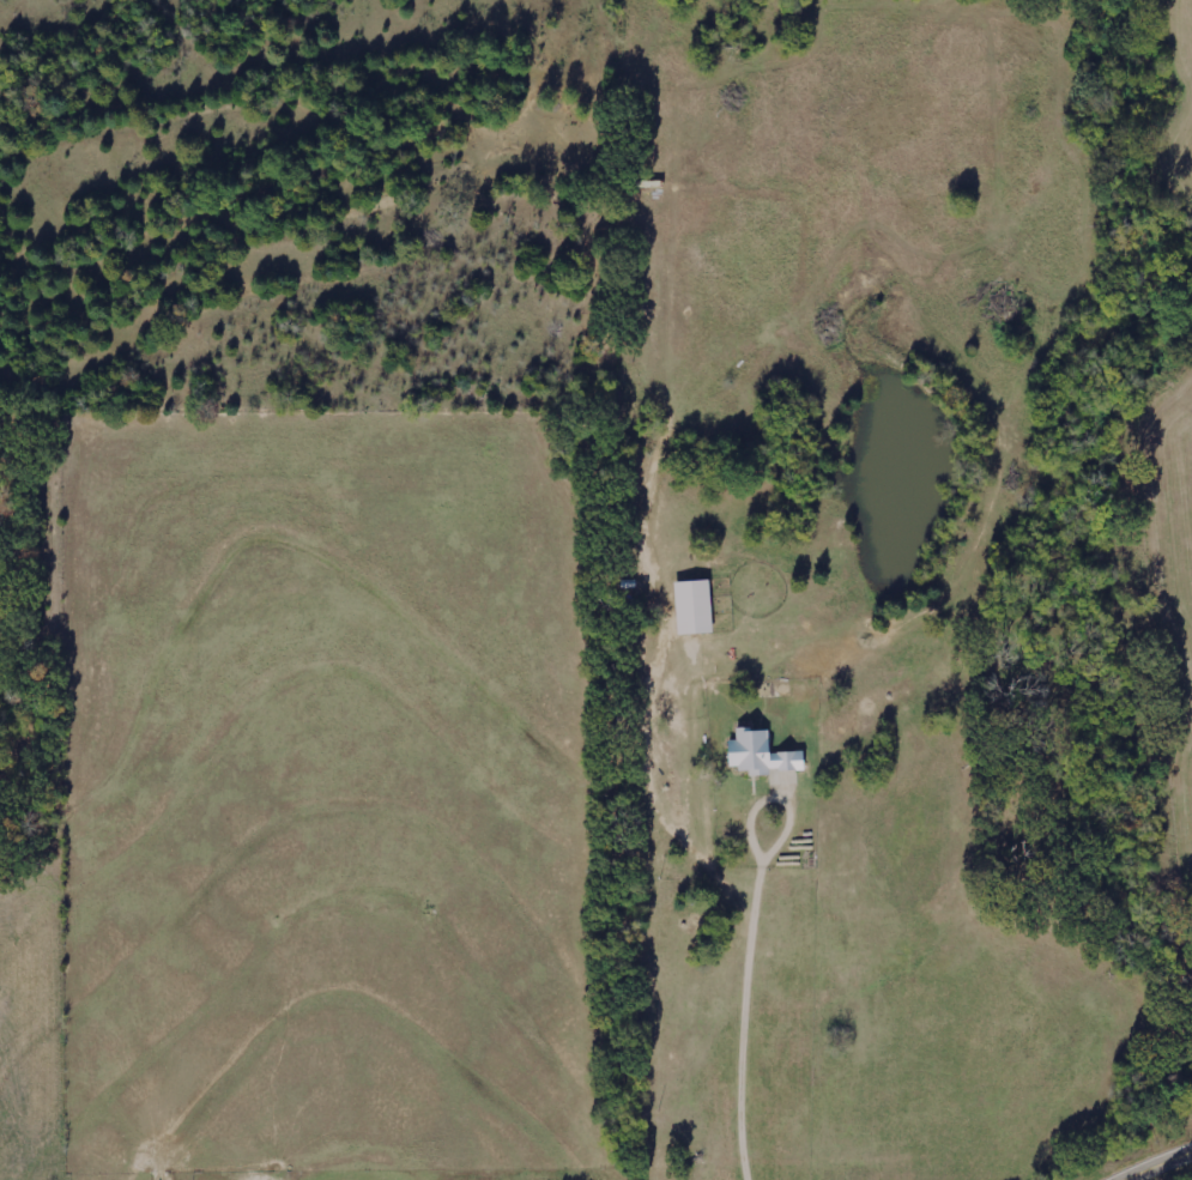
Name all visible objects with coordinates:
building: (694, 606)
building: (761, 754)
road: (776, 797)
road: (745, 1017)
road: (1164, 1169)

